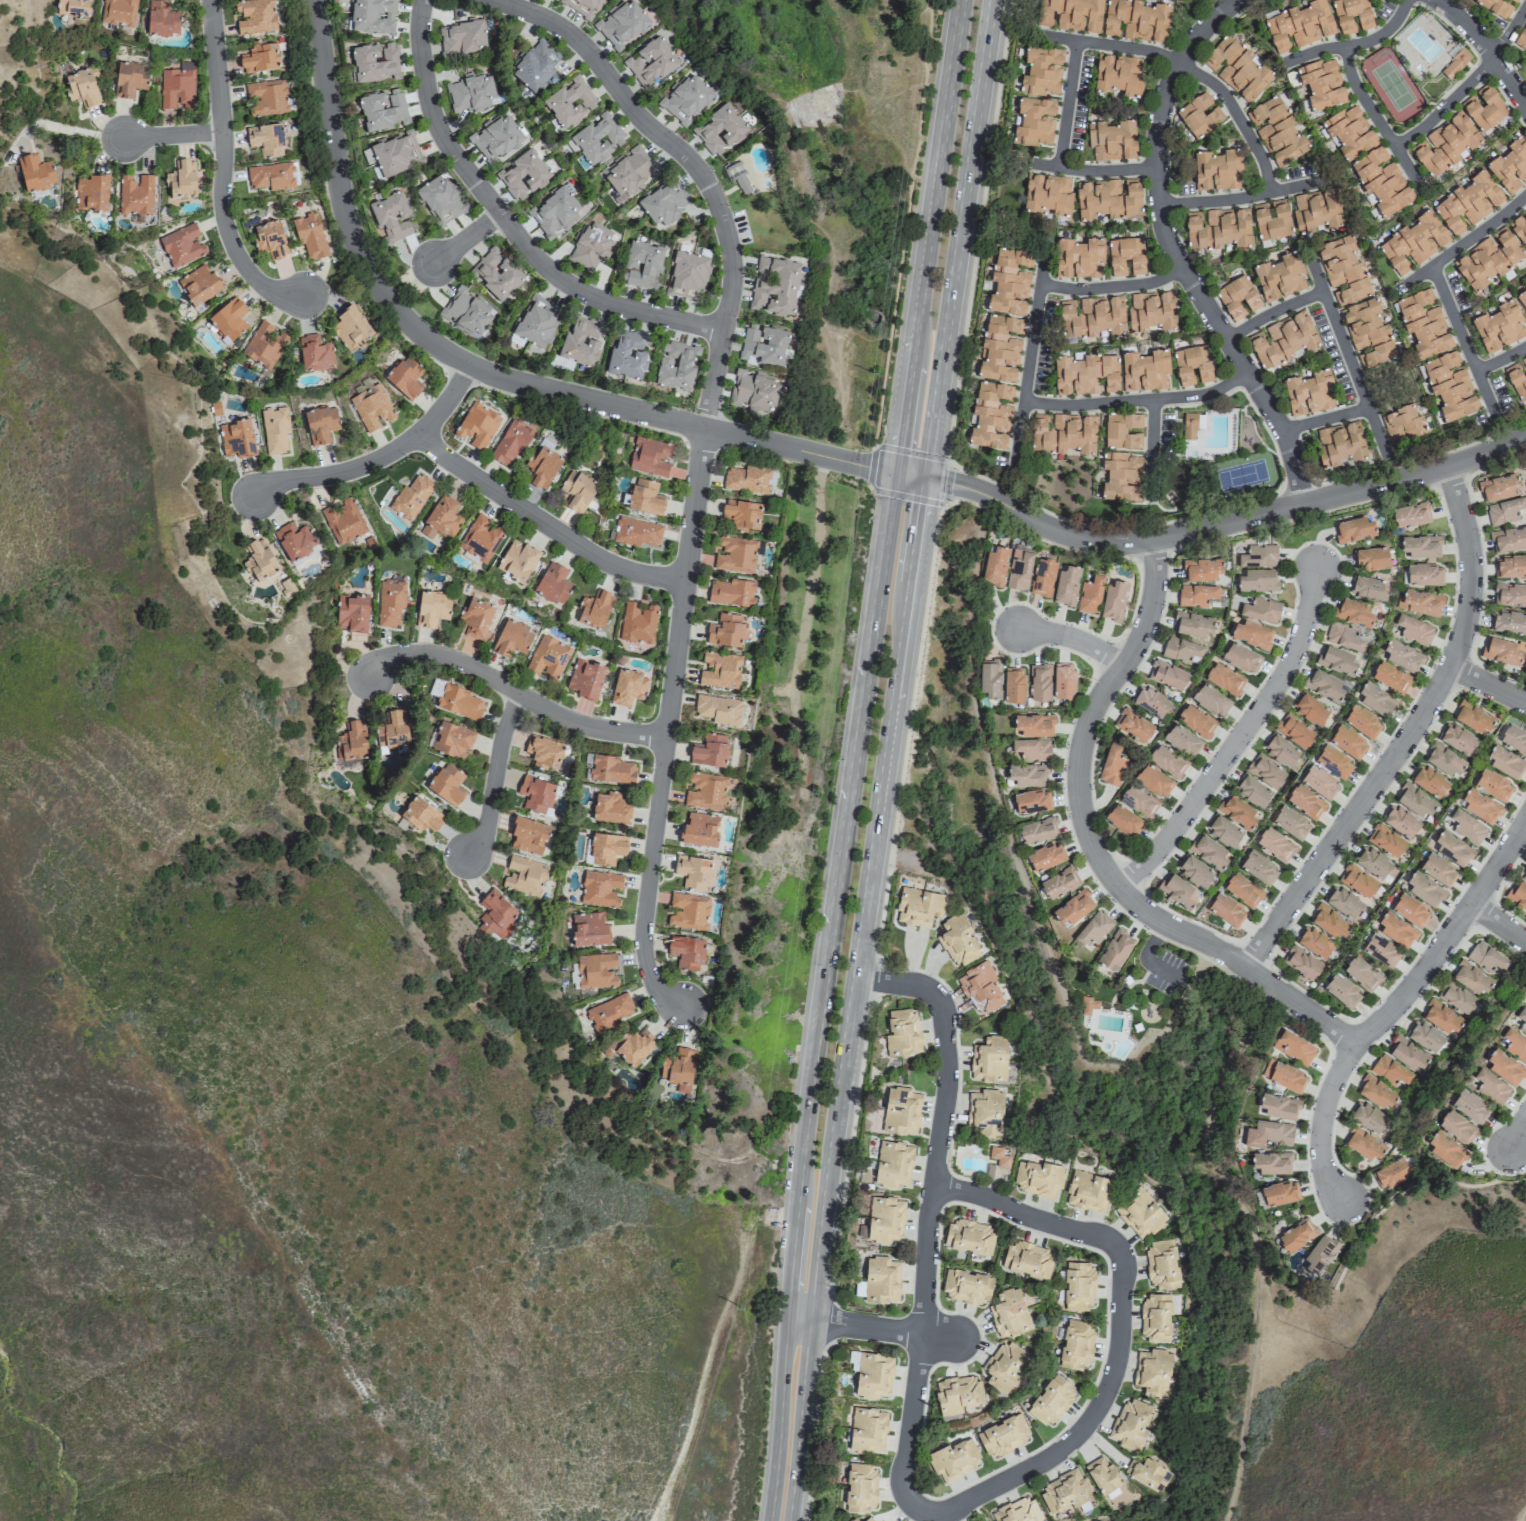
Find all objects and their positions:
building: (1513, 1)
building: (71, 7)
building: (583, 7)
building: (1495, 7)
building: (118, 12)
building: (1071, 14)
building: (255, 16)
building: (1351, 16)
building: (374, 17)
building: (161, 19)
building: (1136, 20)
building: (622, 25)
building: (1299, 26)
building: (463, 38)
building: (1521, 39)
road: (1357, 47)
road: (1485, 47)
building: (259, 58)
building: (650, 61)
building: (373, 62)
building: (1455, 63)
building: (535, 65)
building: (1237, 68)
road: (1188, 71)
building: (1042, 72)
building: (1118, 74)
building: (129, 79)
building: (1321, 84)
building: (177, 86)
building: (82, 87)
road: (1468, 88)
building: (471, 92)
building: (266, 97)
building: (686, 98)
building: (570, 102)
road: (1070, 106)
building: (382, 109)
building: (1485, 110)
building: (1199, 115)
building: (1035, 121)
road: (1380, 124)
building: (719, 130)
building: (1277, 131)
building: (1349, 132)
road: (174, 136)
building: (495, 138)
building: (265, 139)
building: (595, 140)
building: (1111, 140)
building: (1445, 144)
building: (396, 154)
building: (1510, 166)
road: (694, 167)
building: (1217, 170)
building: (35, 173)
road: (1096, 173)
building: (523, 174)
building: (628, 174)
building: (271, 176)
building: (737, 177)
road: (224, 178)
building: (181, 180)
building: (1381, 181)
building: (91, 193)
building: (135, 194)
building: (1048, 194)
building: (441, 199)
building: (1107, 199)
road: (1248, 199)
building: (1468, 202)
building: (662, 205)
building: (1316, 210)
building: (555, 213)
building: (391, 215)
building: (1272, 220)
road: (507, 225)
building: (1217, 228)
building: (1519, 229)
building: (309, 235)
road: (928, 237)
building: (270, 239)
road: (957, 240)
building: (1413, 243)
road: (1468, 244)
building: (181, 245)
building: (591, 246)
road: (456, 249)
road: (1175, 253)
building: (1125, 256)
building: (1079, 258)
building: (1488, 259)
building: (642, 265)
building: (1343, 270)
building: (496, 273)
building: (686, 274)
building: (1280, 277)
building: (1009, 281)
building: (199, 285)
building: (775, 285)
road: (1114, 289)
road: (400, 290)
building: (1237, 297)
building: (1522, 298)
building: (1151, 311)
building: (467, 312)
road: (1275, 315)
building: (1092, 316)
building: (228, 319)
building: (537, 321)
building: (1423, 323)
building: (1499, 327)
building: (350, 328)
building: (1368, 333)
building: (1283, 340)
building: (582, 341)
building: (763, 344)
building: (264, 345)
road: (1466, 347)
building: (999, 349)
building: (314, 353)
building: (627, 355)
road: (1349, 358)
road: (1502, 362)
building: (676, 365)
building: (1191, 365)
road: (480, 368)
road: (1030, 368)
building: (1144, 371)
building: (1085, 374)
building: (405, 377)
building: (1517, 377)
building: (1450, 387)
building: (755, 391)
building: (1309, 393)
road: (1139, 403)
building: (371, 407)
building: (990, 415)
road: (1327, 422)
building: (321, 423)
building: (1403, 424)
building: (477, 425)
building: (1190, 425)
building: (274, 430)
building: (1122, 430)
building: (1063, 433)
building: (236, 438)
building: (510, 442)
building: (1340, 444)
road: (1154, 453)
building: (649, 457)
road: (380, 459)
building: (542, 466)
traffic signals: (895, 474)
building: (1121, 477)
building: (747, 479)
traffic signals: (923, 480)
building: (1499, 487)
building: (577, 491)
building: (411, 497)
building: (645, 497)
building: (1504, 511)
building: (741, 514)
building: (1410, 515)
building: (441, 518)
building: (343, 521)
road: (546, 522)
building: (1354, 529)
road: (1209, 530)
building: (636, 532)
building: (479, 538)
building: (1508, 539)
building: (293, 540)
building: (1420, 546)
building: (736, 555)
building: (1258, 556)
building: (1371, 558)
building: (260, 560)
building: (517, 560)
building: (1511, 566)
building: (994, 567)
building: (1018, 569)
building: (1202, 569)
building: (1424, 574)
building: (1042, 577)
building: (1256, 581)
building: (552, 583)
building: (1066, 585)
building: (1367, 588)
building: (731, 592)
building: (1090, 594)
building: (1509, 594)
building: (1196, 595)
building: (1113, 601)
building: (390, 602)
building: (1419, 602)
building: (431, 608)
building: (594, 610)
building: (1260, 610)
building: (351, 613)
building: (1354, 613)
building: (475, 619)
building: (637, 622)
building: (1509, 622)
building: (1193, 624)
building: (725, 630)
building: (1414, 630)
building: (1252, 634)
building: (1343, 636)
building: (511, 639)
road: (1075, 641)
building: (1181, 649)
building: (1504, 651)
building: (1402, 655)
building: (548, 657)
building: (1241, 658)
building: (1337, 661)
building: (719, 670)
building: (1167, 674)
building: (989, 678)
building: (1390, 678)
building: (585, 679)
building: (1224, 679)
building: (1063, 681)
building: (1039, 683)
building: (1013, 685)
building: (1324, 685)
road: (1488, 687)
building: (627, 688)
road: (517, 691)
building: (1210, 700)
building: (1377, 700)
building: (457, 701)
building: (1151, 701)
building: (716, 709)
building: (1310, 710)
building: (1474, 716)
building: (1196, 721)
building: (1362, 722)
road: (671, 723)
building: (1034, 725)
building: (1133, 725)
building: (392, 729)
building: (1294, 731)
road: (1411, 737)
building: (1457, 738)
building: (1514, 739)
building: (452, 740)
building: (1182, 740)
road: (1240, 741)
building: (352, 742)
building: (1347, 742)
building: (1031, 749)
building: (1281, 750)
building: (709, 751)
building: (544, 752)
building: (1444, 760)
building: (1167, 761)
building: (1333, 762)
building: (1505, 762)
building: (1111, 766)
building: (611, 769)
building: (1265, 771)
building: (1028, 775)
road: (497, 777)
building: (1153, 781)
building: (1429, 781)
building: (1319, 782)
building: (447, 784)
building: (1493, 785)
building: (705, 791)
building: (1252, 791)
building: (535, 794)
building: (1031, 801)
building: (1138, 801)
building: (1416, 801)
building: (1305, 802)
building: (1480, 805)
building: (610, 808)
building: (1237, 811)
building: (421, 815)
building: (1122, 820)
building: (1401, 821)
building: (1290, 822)
building: (1467, 827)
building: (699, 830)
building: (1037, 830)
building: (1224, 831)
building: (528, 835)
building: (1386, 840)
building: (1275, 844)
building: (606, 848)
building: (1452, 849)
road: (1096, 852)
building: (1209, 852)
building: (1045, 856)
building: (1372, 862)
building: (1258, 868)
building: (1438, 869)
building: (692, 871)
building: (1194, 871)
building: (524, 875)
building: (1523, 876)
building: (1357, 881)
building: (1059, 883)
building: (600, 888)
building: (1424, 888)
building: (1242, 890)
building: (1178, 891)
building: (1517, 896)
building: (1343, 901)
building: (918, 907)
building: (1073, 907)
building: (1226, 909)
building: (1409, 909)
building: (687, 911)
building: (494, 914)
building: (1329, 922)
road: (1499, 925)
building: (589, 929)
building: (1093, 929)
building: (1396, 930)
building: (957, 940)
building: (1314, 942)
building: (1115, 949)
building: (1381, 950)
building: (686, 951)
road: (1147, 957)
building: (1486, 957)
building: (1301, 962)
building: (596, 971)
building: (1361, 974)
building: (1471, 978)
building: (979, 988)
building: (1342, 990)
road: (821, 996)
building: (1456, 997)
road: (848, 999)
building: (1088, 1005)
building: (608, 1013)
road: (1391, 1013)
building: (1442, 1017)
building: (1522, 1018)
road: (1169, 1023)
building: (902, 1033)
building: (1425, 1036)
building: (1515, 1044)
building: (633, 1046)
building: (1293, 1047)
building: (1408, 1054)
building: (989, 1060)
building: (1504, 1067)
building: (678, 1068)
building: (1390, 1071)
building: (1287, 1077)
building: (1491, 1086)
building: (1376, 1093)
building: (1470, 1106)
building: (1279, 1107)
building: (900, 1111)
building: (984, 1112)
building: (1367, 1117)
building: (1456, 1127)
building: (1268, 1133)
road: (1514, 1137)
building: (1364, 1144)
building: (1446, 1150)
building: (998, 1157)
building: (1271, 1162)
building: (893, 1164)
building: (995, 1173)
building: (1391, 1173)
building: (1038, 1178)
building: (1087, 1191)
building: (1280, 1192)
road: (928, 1208)
building: (1139, 1213)
building: (885, 1219)
building: (1297, 1234)
building: (968, 1236)
building: (1319, 1254)
building: (1027, 1260)
building: (1161, 1264)
building: (881, 1279)
building: (966, 1286)
building: (1078, 1286)
building: (1009, 1313)
building: (1157, 1316)
road: (871, 1326)
road: (1123, 1342)
building: (1076, 1345)
building: (1005, 1365)
building: (1152, 1372)
building: (873, 1375)
building: (957, 1393)
building: (1051, 1401)
building: (1131, 1424)
building: (867, 1429)
building: (1003, 1436)
building: (954, 1459)
building: (1145, 1472)
building: (1102, 1474)
building: (860, 1488)
building: (1065, 1491)
building: (1016, 1511)
road: (1523, 1517)
building: (853, 1519)
building: (868, 1519)

